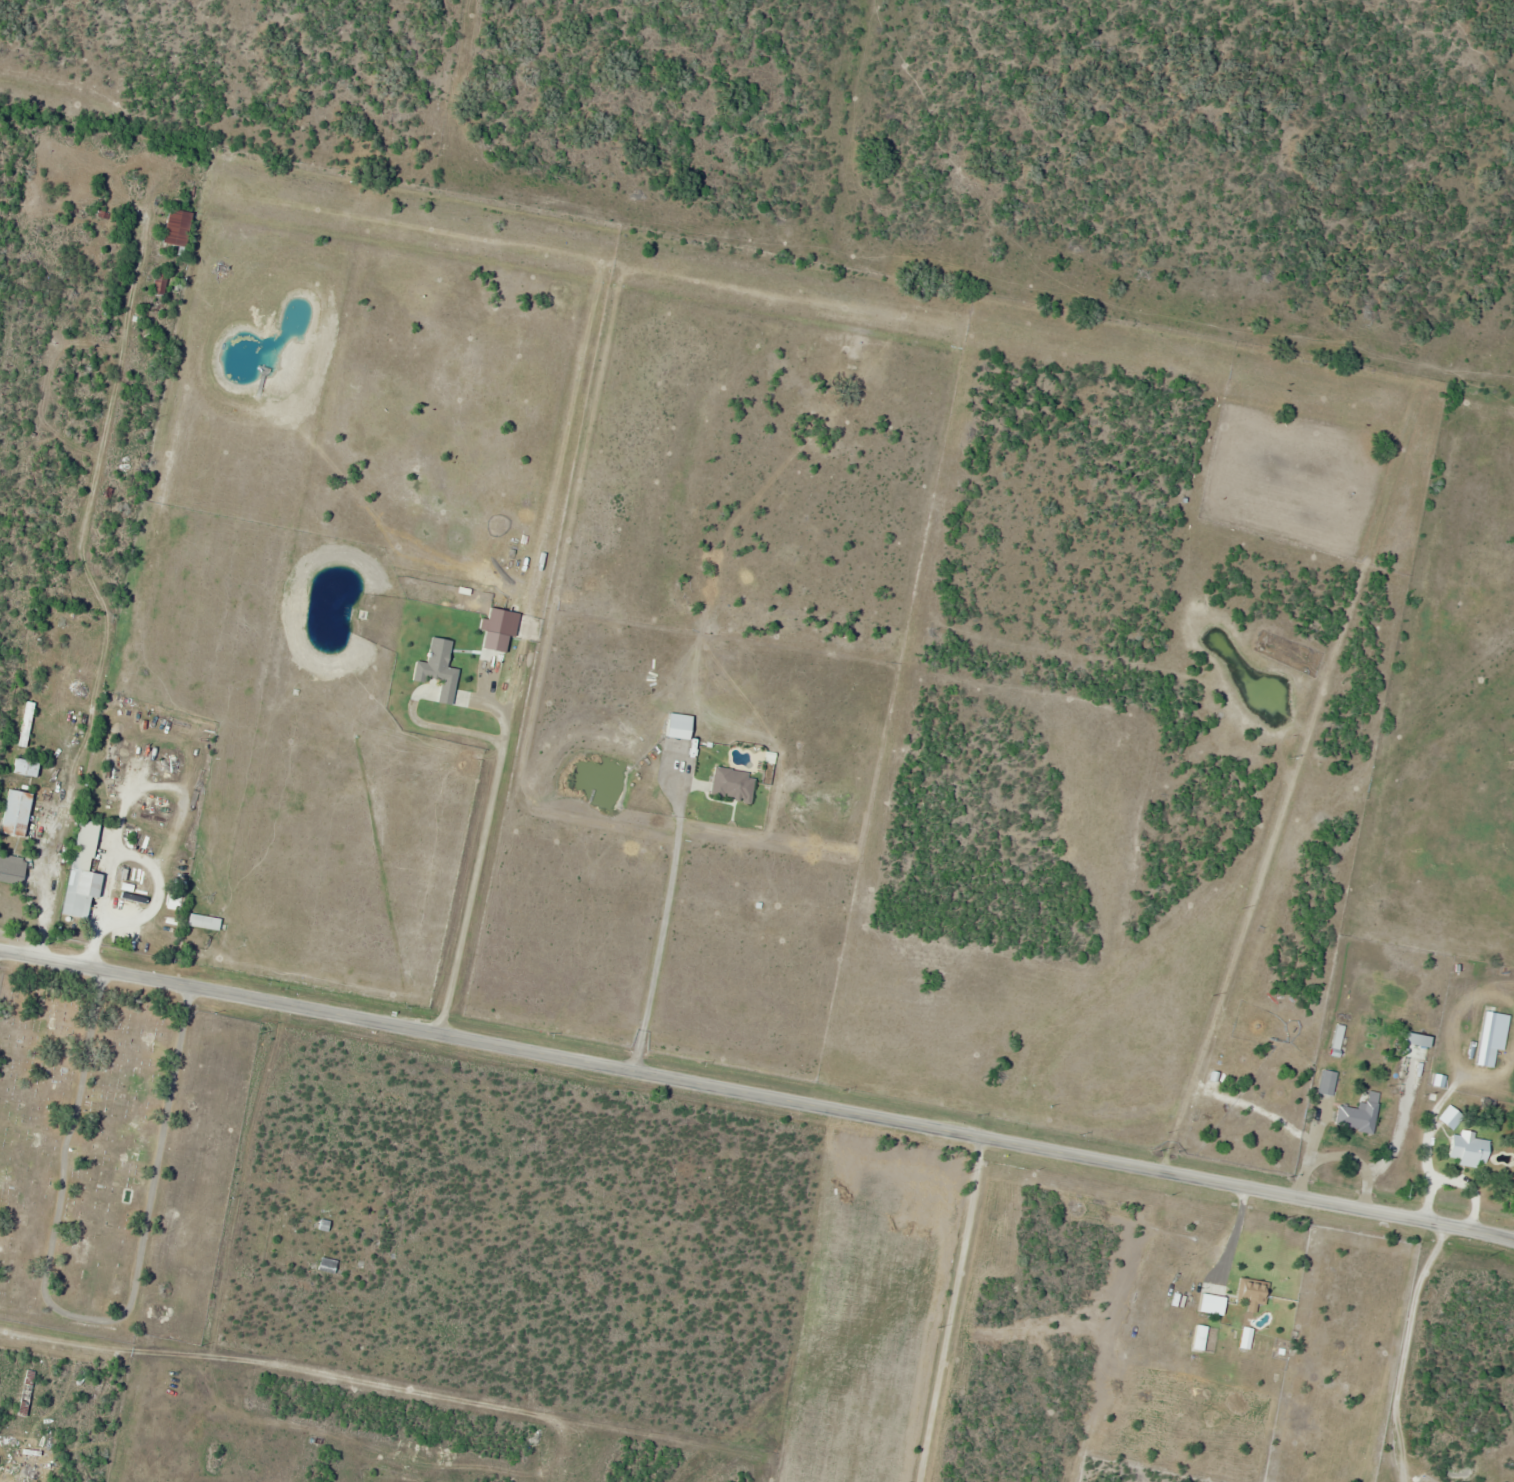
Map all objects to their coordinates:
building: (180, 229)
building: (161, 285)
road: (128, 478)
building: (27, 768)
building: (734, 785)
building: (19, 814)
building: (13, 869)
building: (84, 872)
building: (206, 922)
road: (96, 969)
building: (1487, 1038)
building: (1339, 1041)
building: (1418, 1057)
building: (1329, 1083)
road: (853, 1112)
building: (1361, 1114)
building: (1198, 1115)
building: (1453, 1116)
building: (1471, 1150)
park: (115, 1153)
building: (322, 1224)
road: (1509, 1235)
building: (1254, 1292)
road: (84, 1316)
road: (61, 1348)
building: (26, 1393)
building: (22, 1468)

